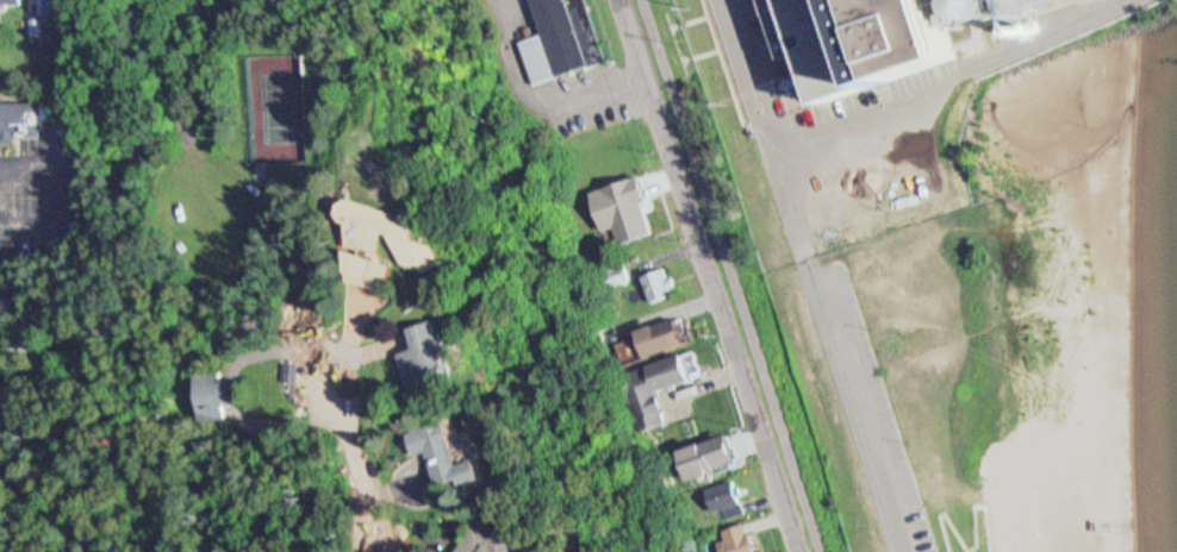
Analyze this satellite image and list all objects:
building: (14, 1)
building: (48, 7)
building: (0, 21)
building: (38, 25)
building: (560, 38)
building: (895, 39)
park: (286, 107)
building: (20, 119)
building: (913, 168)
building: (404, 244)
road: (709, 275)
road: (735, 275)
building: (660, 284)
building: (6, 305)
building: (664, 337)
building: (4, 349)
building: (1160, 351)
park: (1042, 355)
building: (450, 356)
park: (1019, 362)
building: (671, 371)
building: (231, 393)
parking lot: (865, 406)
road: (855, 410)
building: (467, 457)
road: (365, 462)
building: (725, 500)
building: (736, 538)
building: (516, 539)
road: (963, 542)

